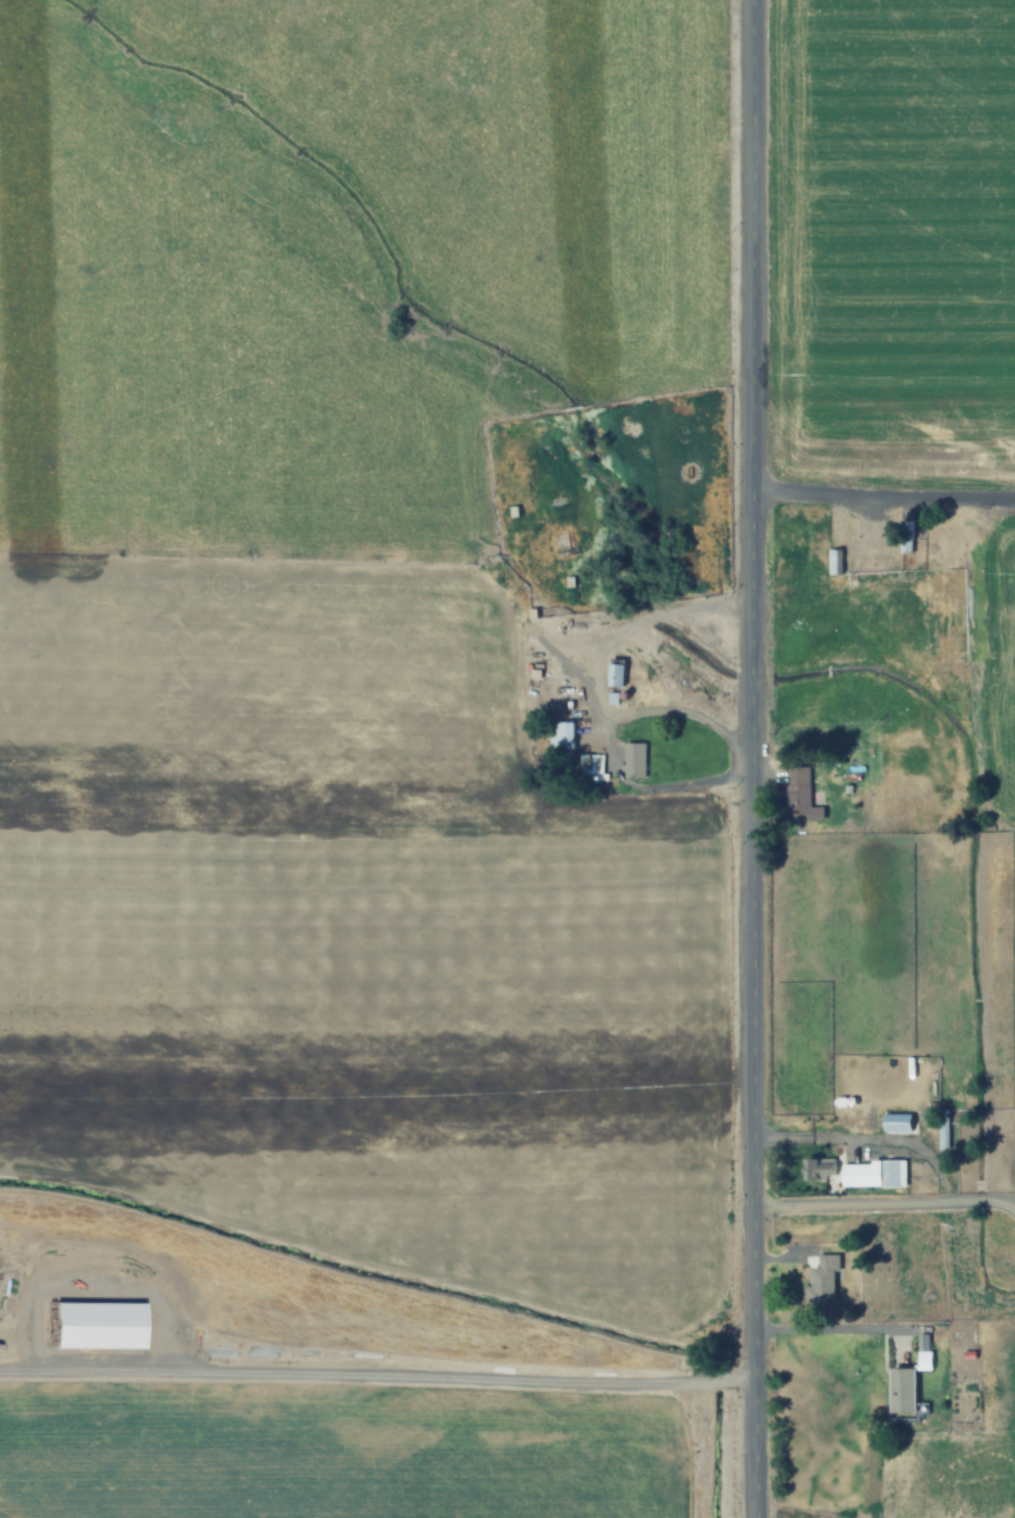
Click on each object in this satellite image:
road: (884, 490)
road: (752, 759)
road: (928, 1164)

